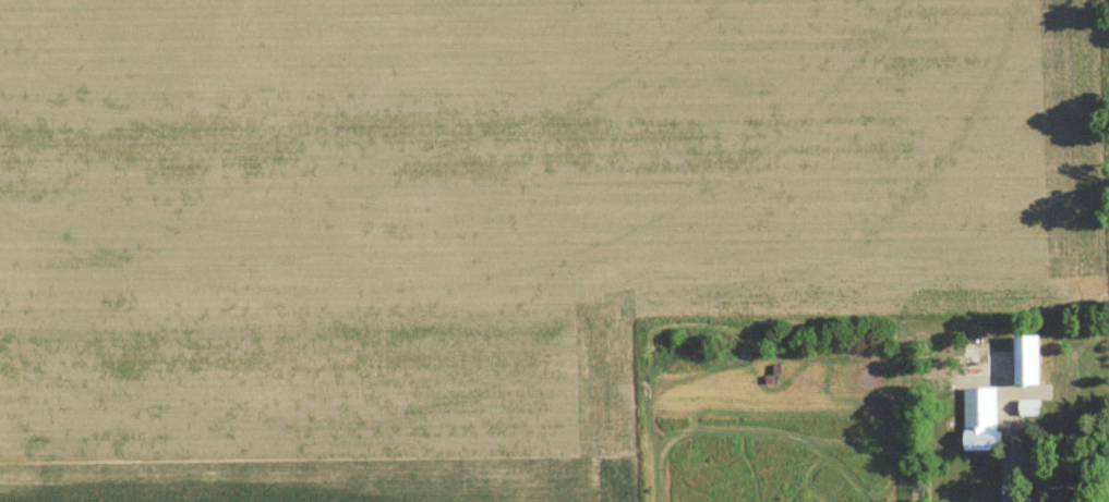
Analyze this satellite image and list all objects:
building: (1024, 363)
building: (977, 424)

